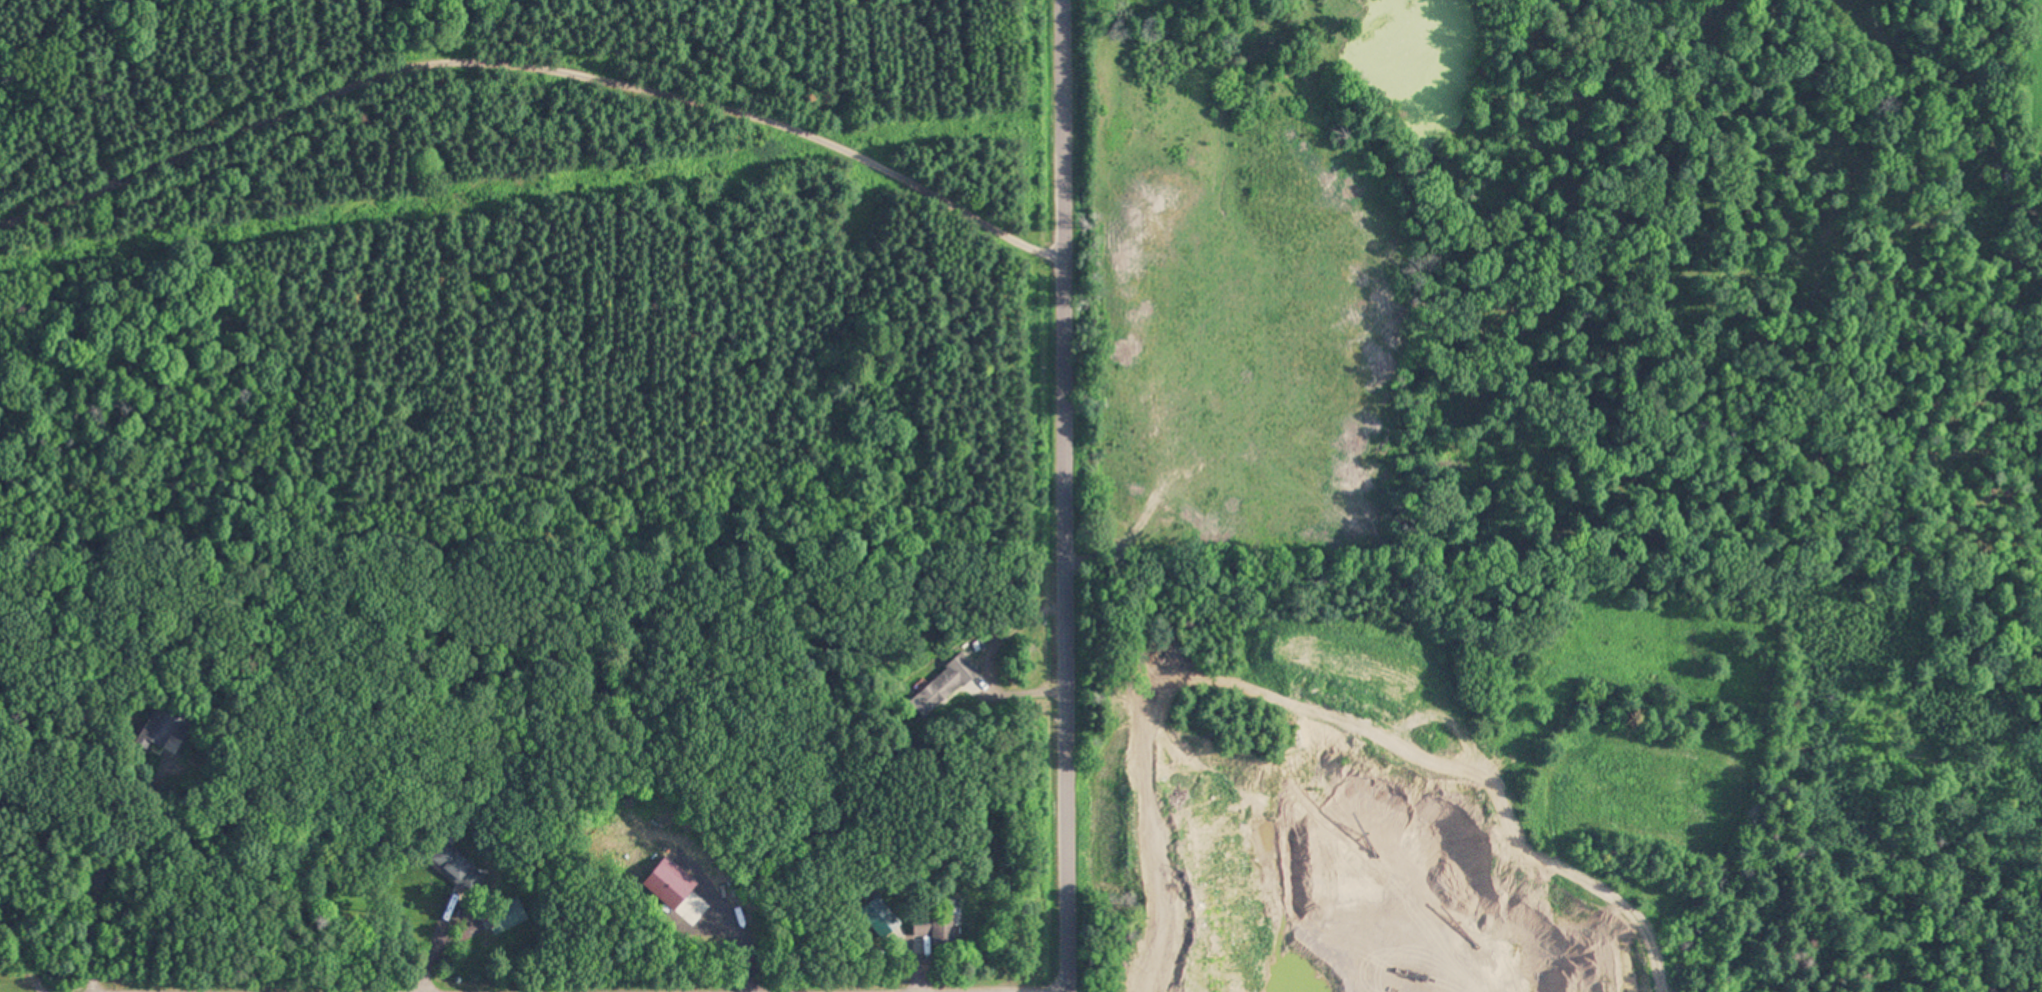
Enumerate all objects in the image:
road: (534, 96)
road: (1066, 495)
building: (945, 686)
building: (162, 732)
quarry: (1561, 768)
building: (453, 863)
building: (506, 918)
building: (880, 918)
building: (934, 926)

